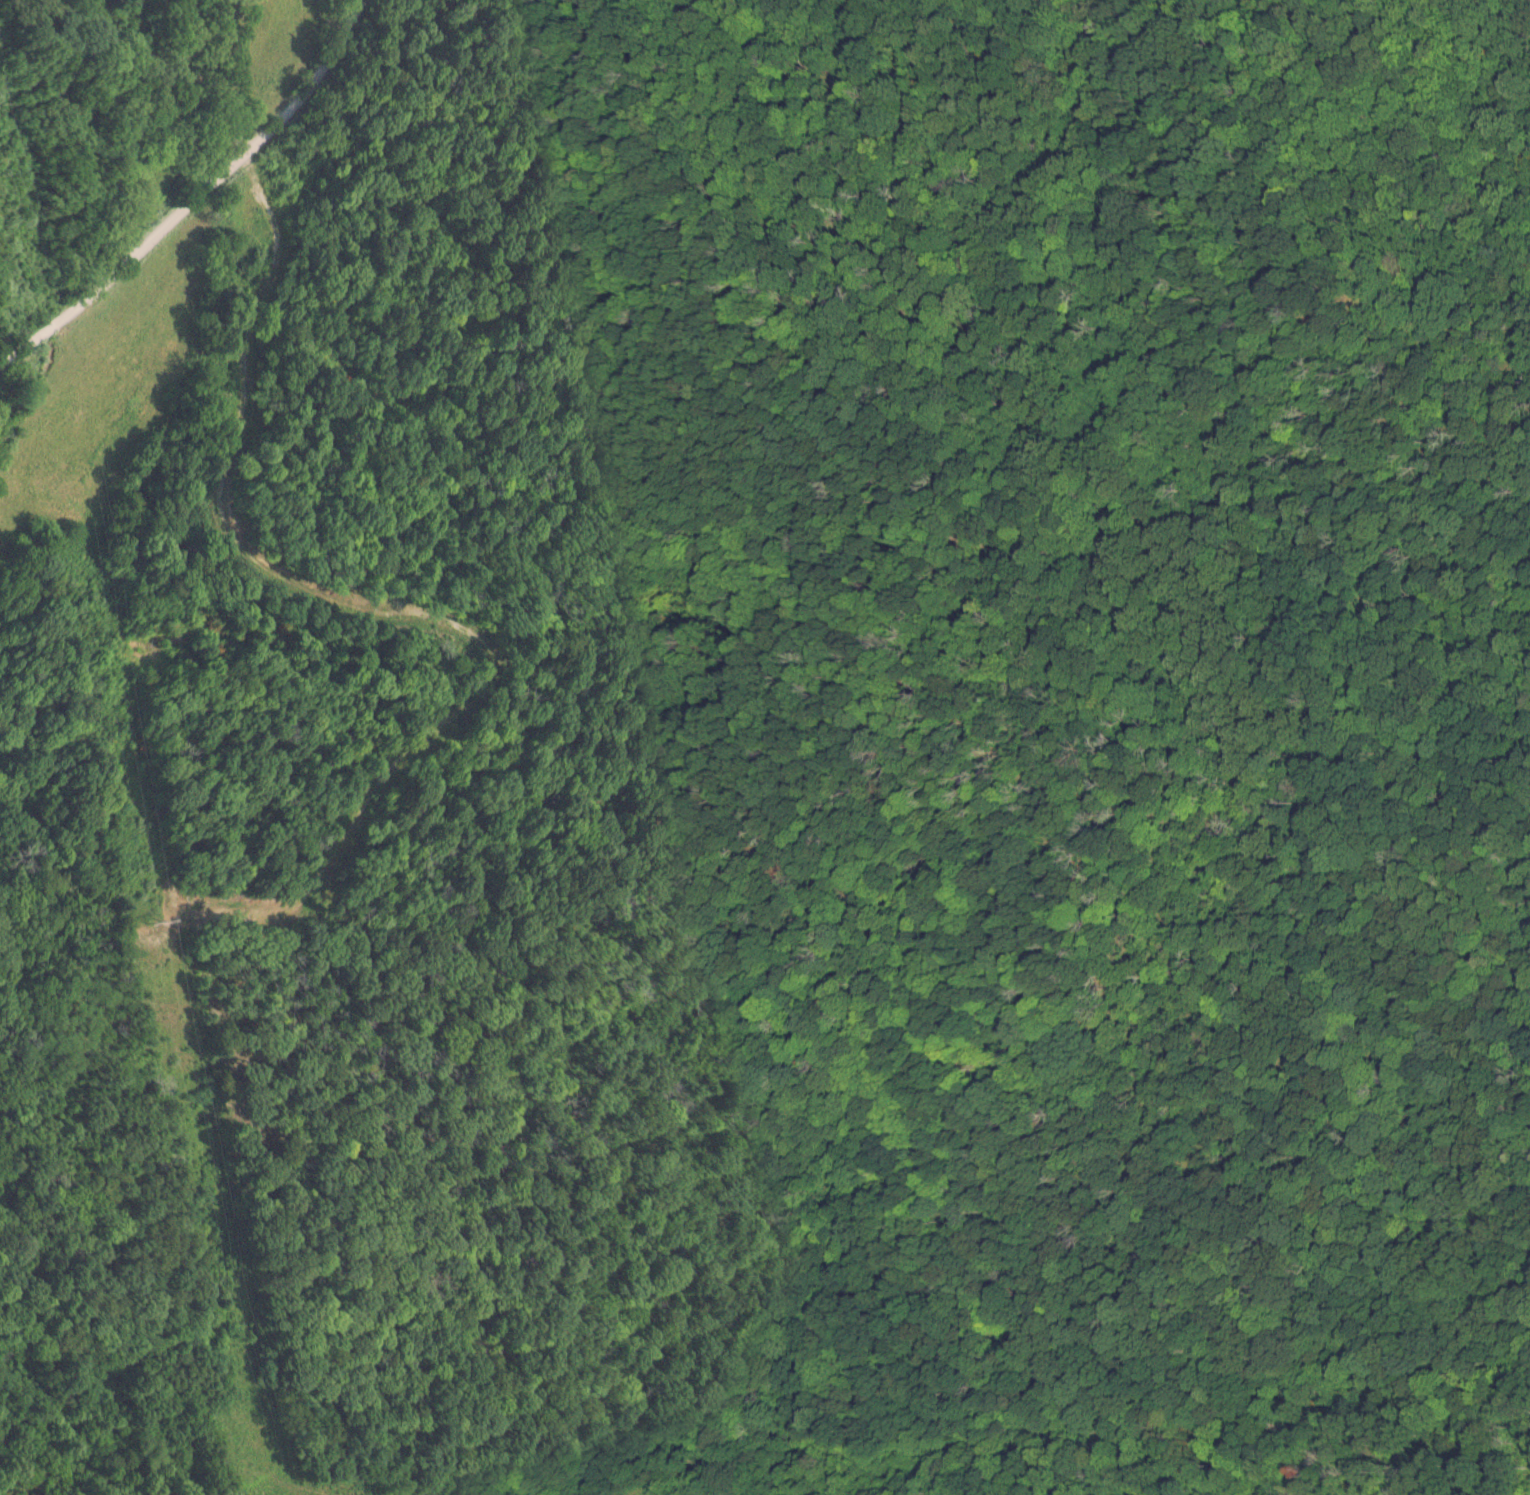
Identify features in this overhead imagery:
road: (196, 197)

